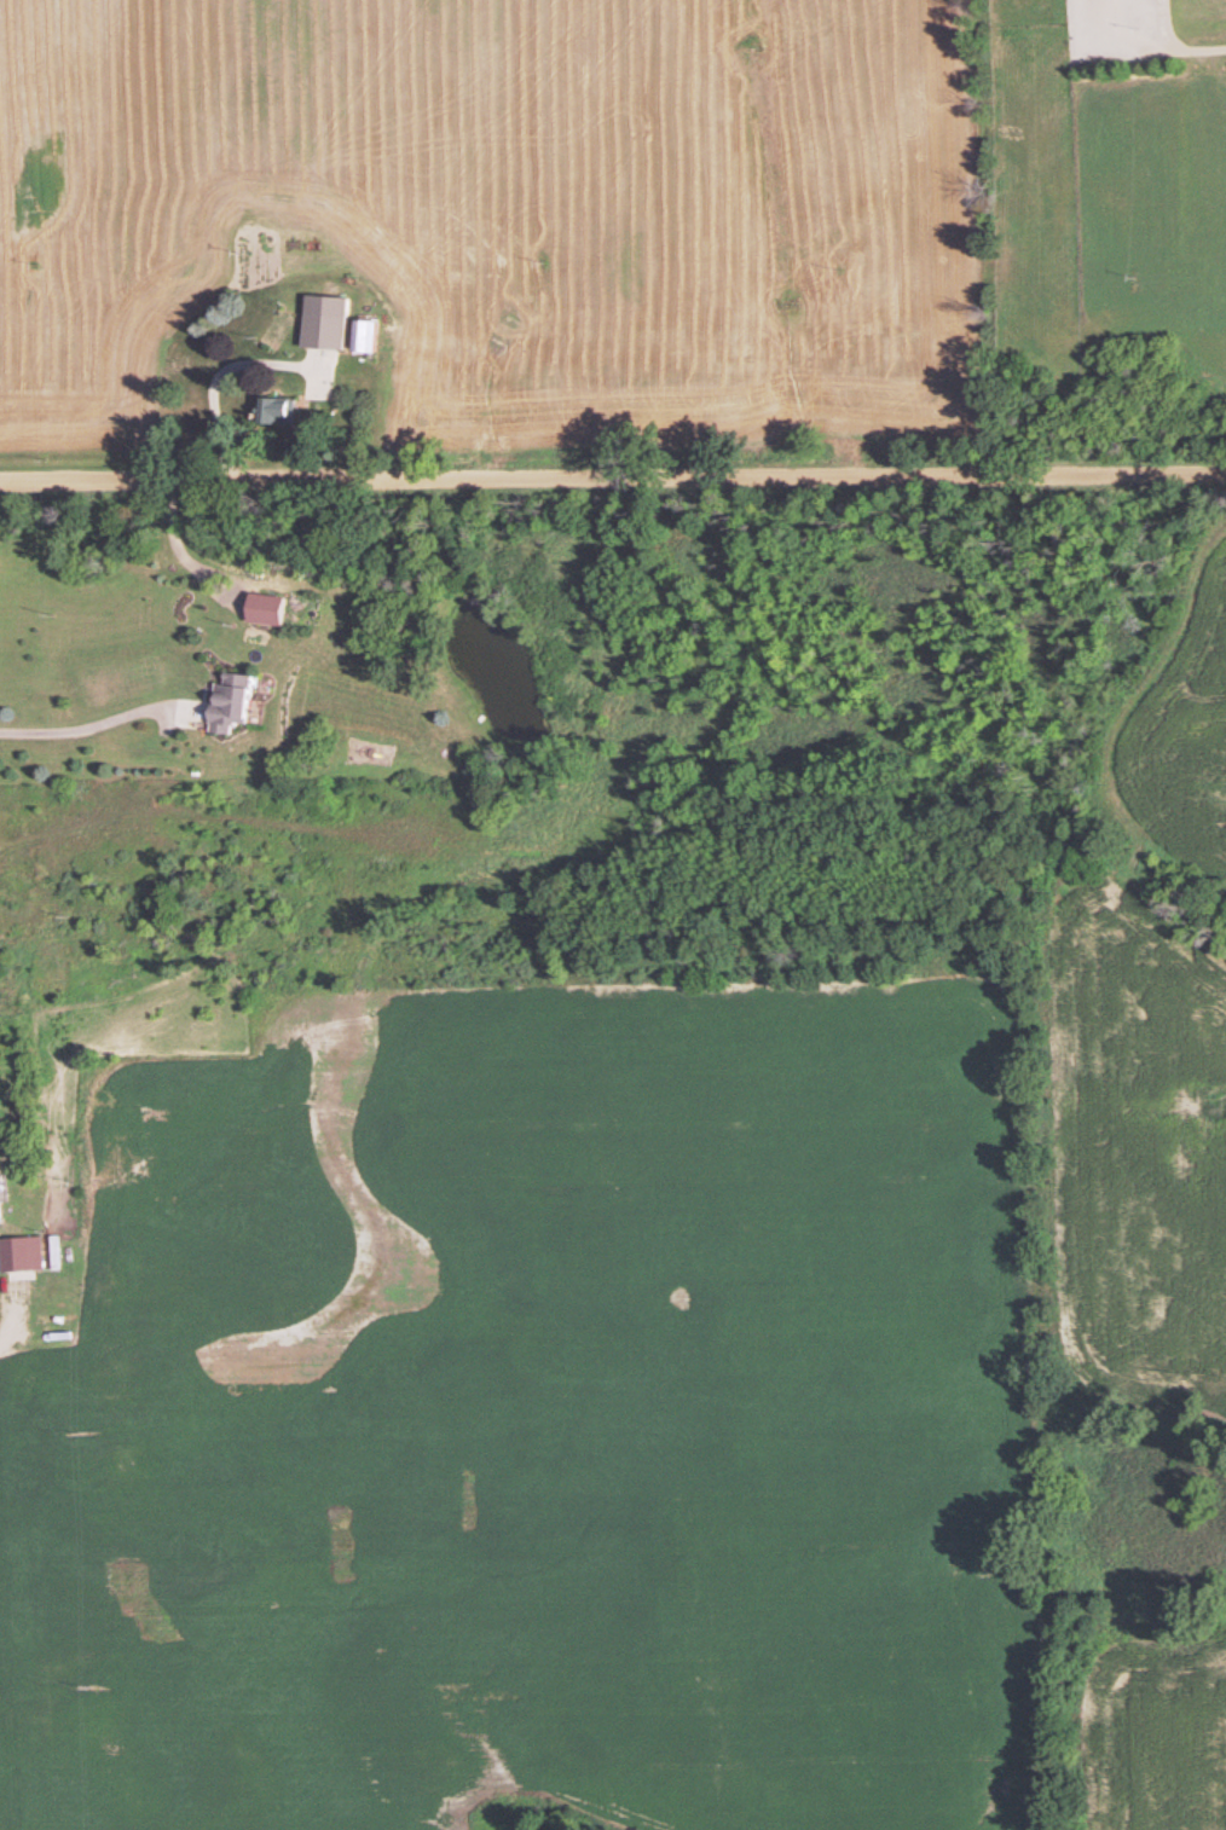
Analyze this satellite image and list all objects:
building: (320, 322)
building: (359, 335)
building: (270, 410)
road: (613, 475)
building: (224, 702)
road: (88, 732)
building: (18, 1253)
road: (12, 1324)

